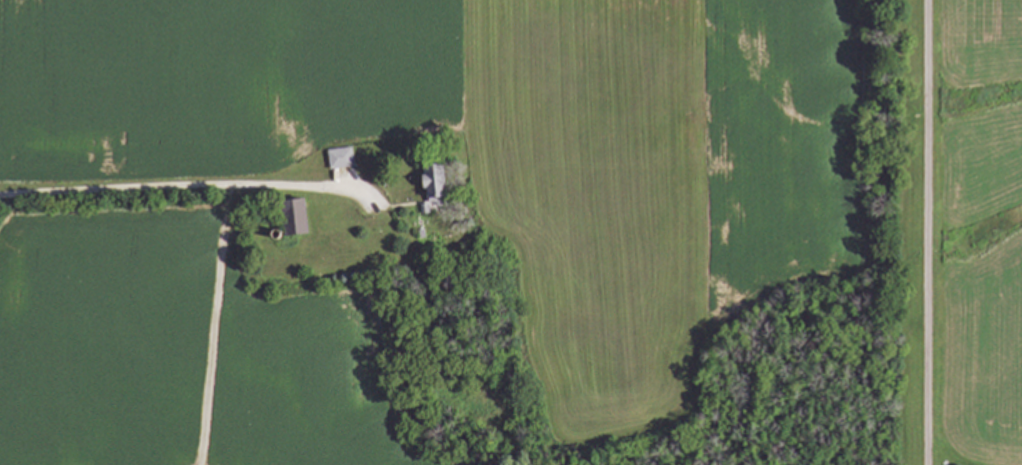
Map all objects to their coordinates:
building: (340, 157)
building: (436, 182)
road: (175, 187)
building: (296, 216)
crop: (979, 228)
road: (928, 232)
crop: (679, 239)
road: (211, 325)

